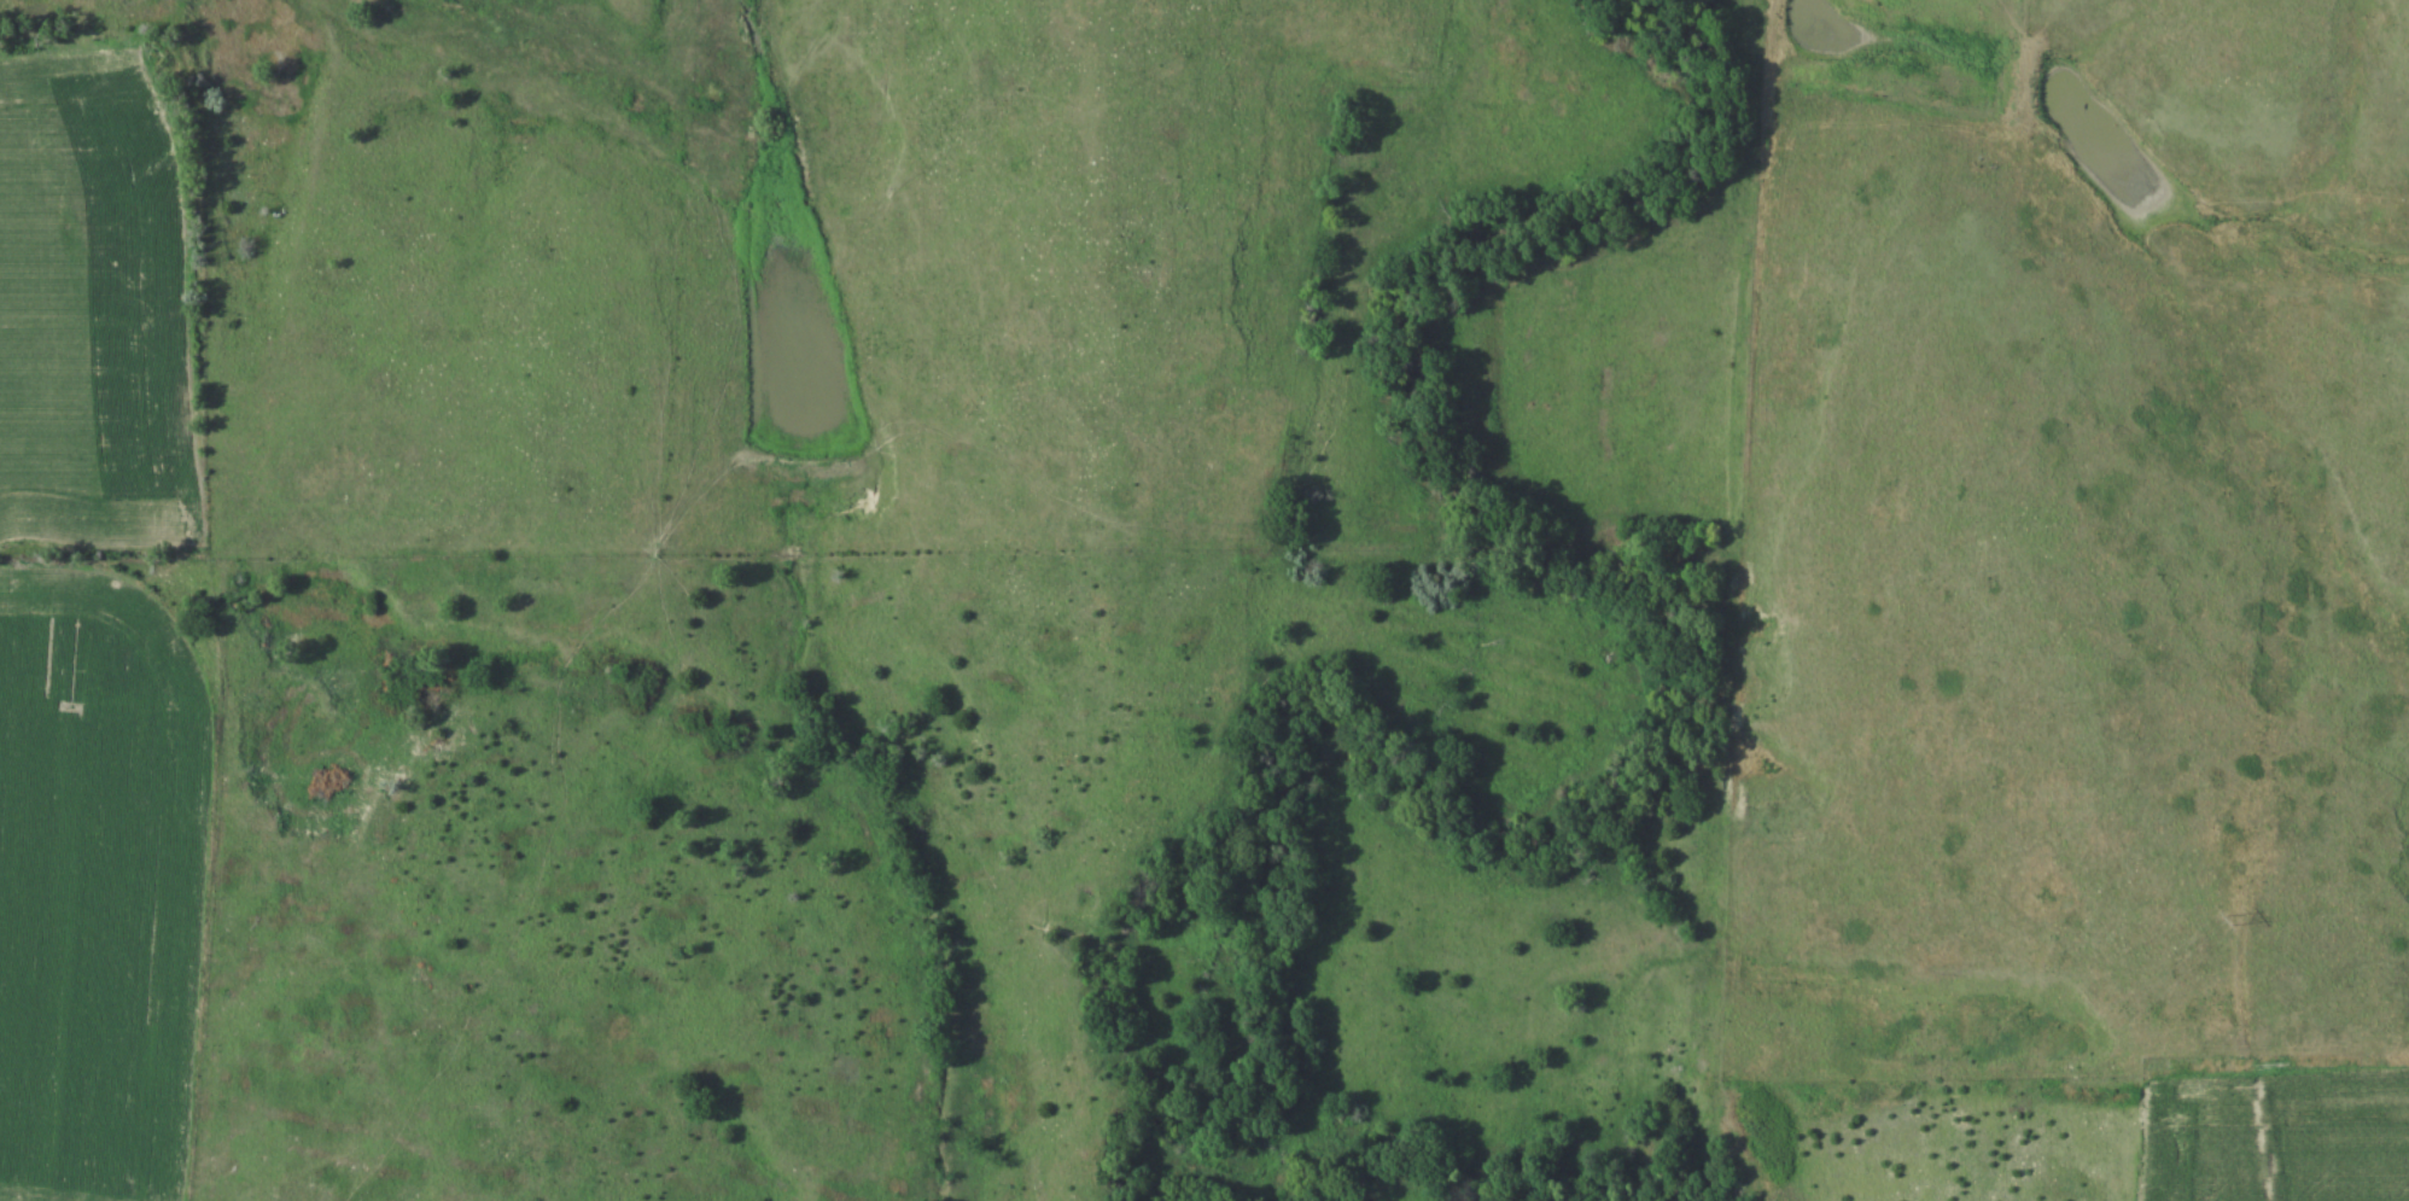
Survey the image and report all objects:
power tower: (2228, 926)

